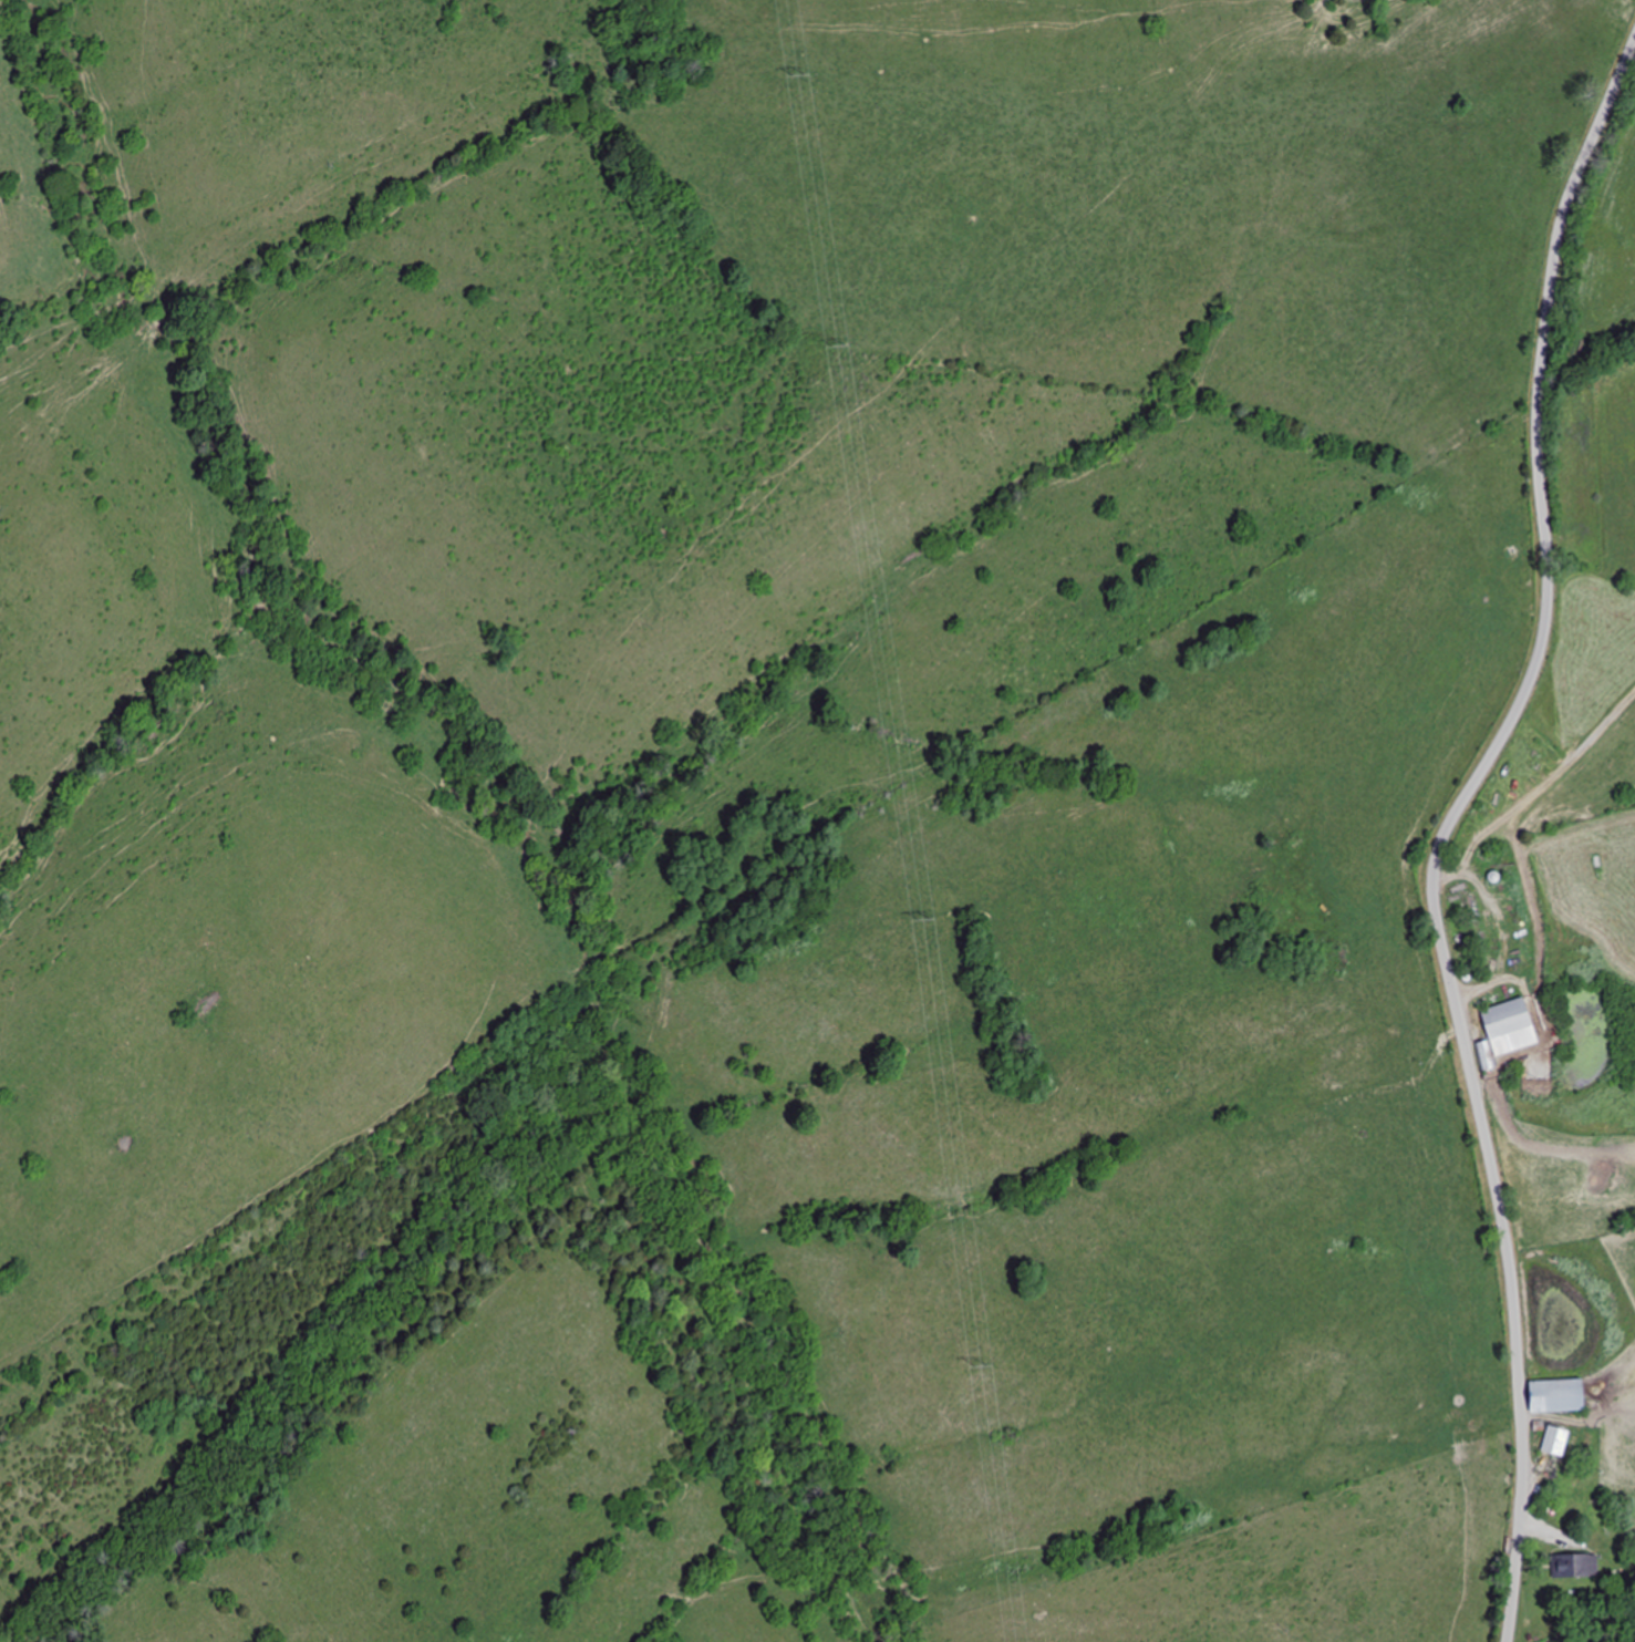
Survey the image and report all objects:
road: (1448, 826)
building: (1515, 1026)
building: (1563, 1396)
building: (1559, 1442)
building: (1581, 1566)

